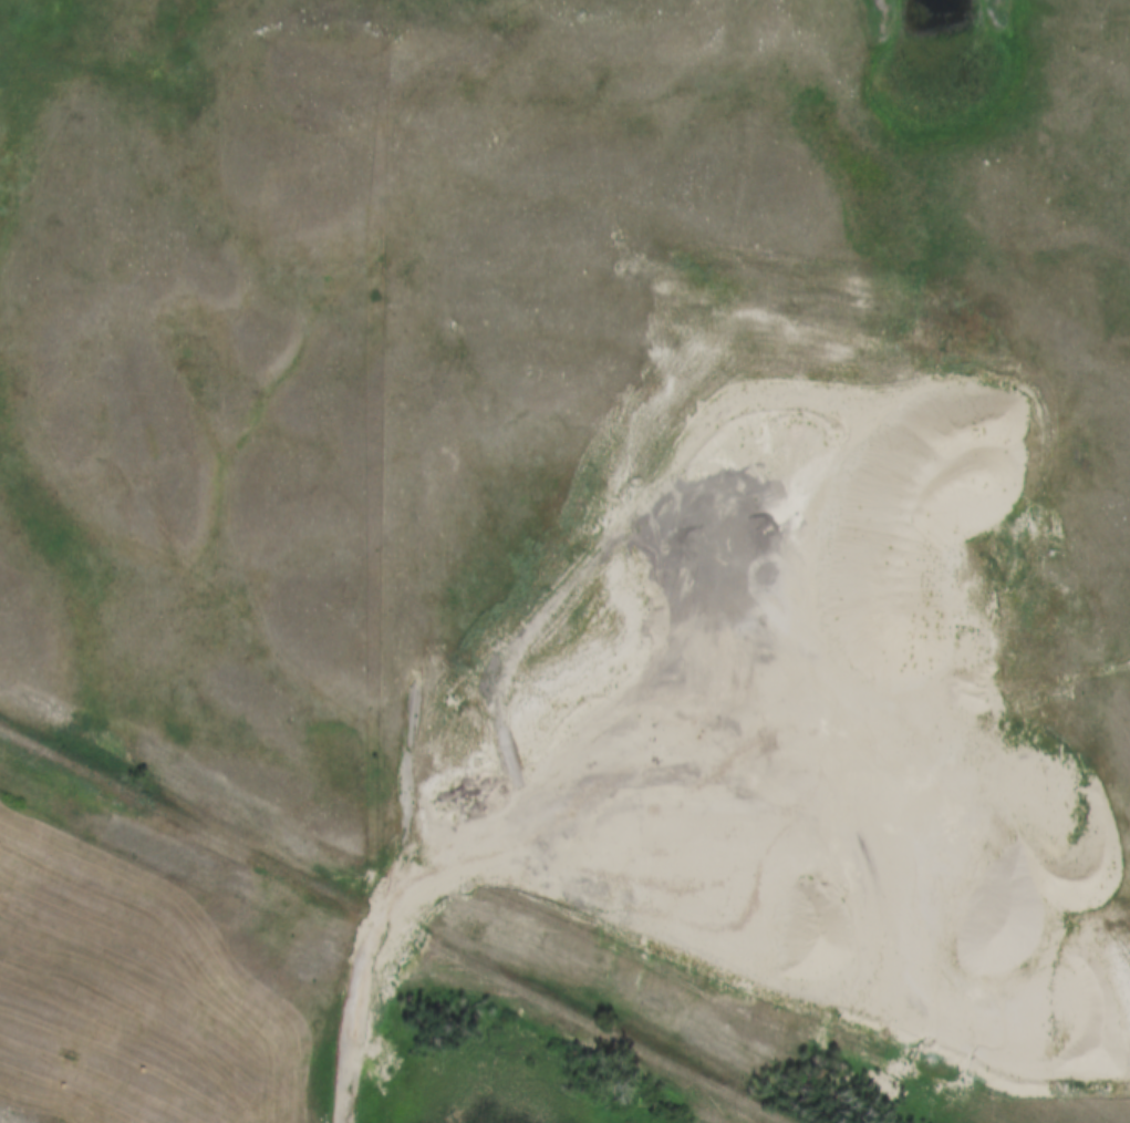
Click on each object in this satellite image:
road: (476, 817)

